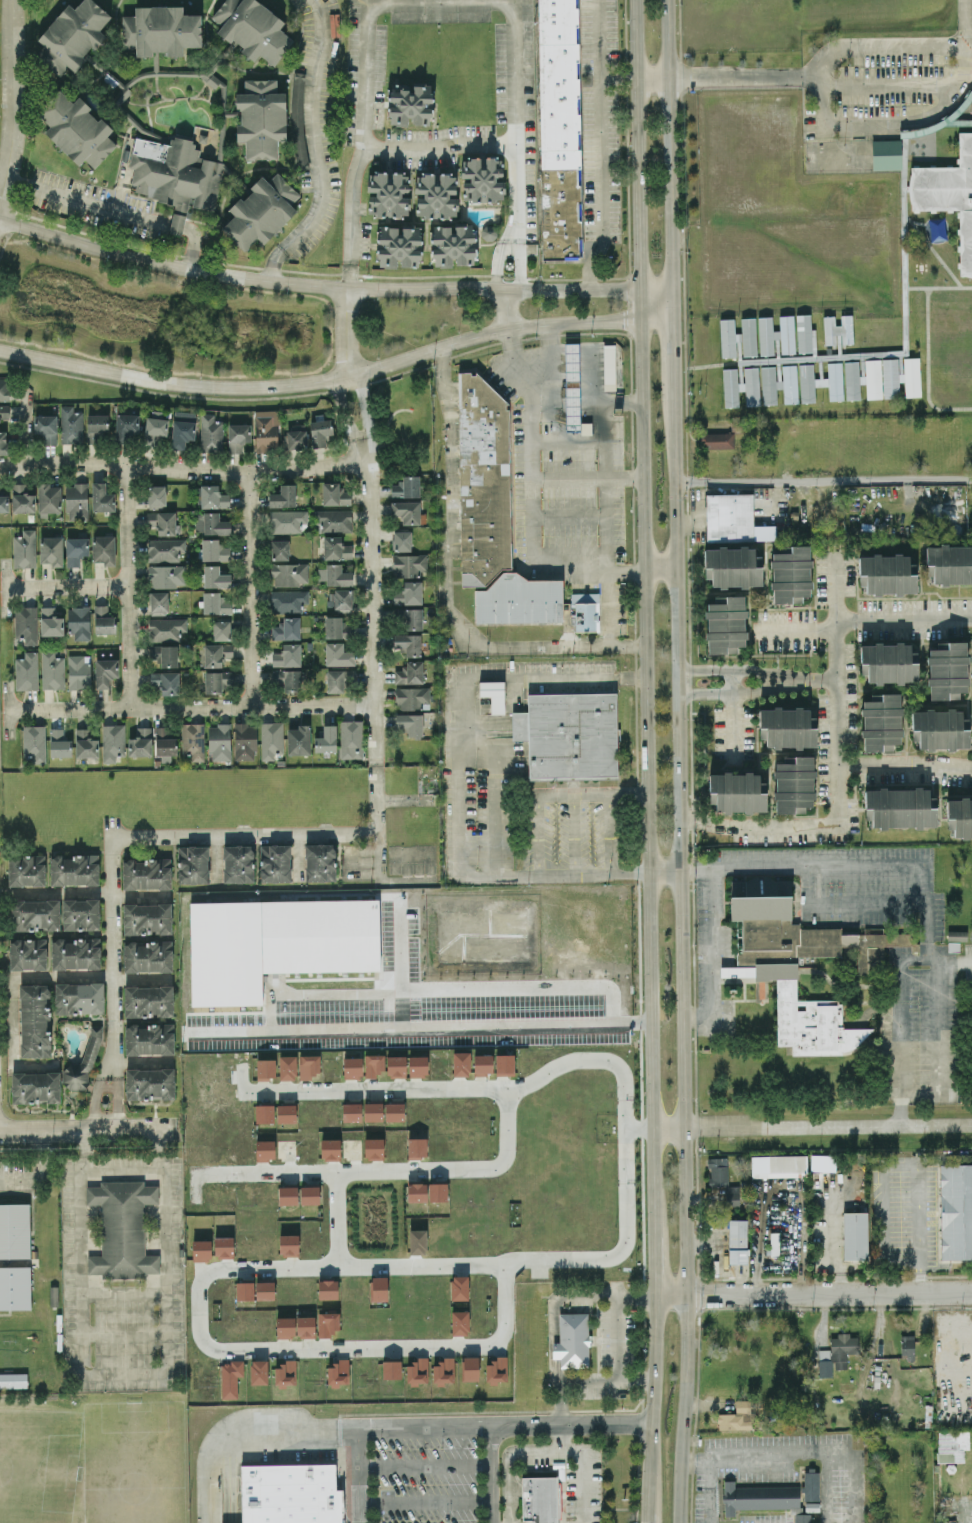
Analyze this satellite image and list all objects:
road: (966, 23)
building: (252, 28)
building: (160, 30)
building: (72, 36)
road: (825, 57)
road: (745, 77)
road: (653, 79)
road: (889, 87)
building: (410, 105)
road: (15, 108)
building: (261, 117)
road: (917, 121)
building: (76, 129)
building: (559, 129)
road: (446, 135)
road: (519, 141)
road: (371, 142)
road: (637, 143)
road: (600, 144)
road: (670, 149)
building: (886, 154)
building: (482, 179)
building: (388, 194)
building: (436, 194)
building: (948, 194)
building: (260, 211)
building: (489, 232)
building: (399, 245)
building: (452, 245)
road: (278, 255)
road: (316, 285)
road: (655, 294)
road: (640, 304)
road: (656, 310)
road: (507, 311)
road: (611, 320)
building: (838, 329)
road: (347, 332)
building: (804, 333)
building: (787, 334)
building: (766, 335)
building: (727, 336)
building: (748, 336)
road: (672, 349)
road: (511, 362)
road: (550, 363)
building: (609, 367)
road: (537, 370)
building: (912, 376)
building: (890, 377)
building: (873, 378)
building: (851, 380)
building: (835, 381)
building: (807, 382)
road: (292, 383)
building: (790, 383)
building: (751, 385)
building: (769, 385)
building: (573, 386)
building: (730, 387)
building: (4, 389)
road: (586, 402)
road: (352, 405)
building: (4, 409)
building: (70, 425)
building: (96, 425)
building: (125, 426)
building: (155, 426)
building: (45, 429)
road: (24, 430)
building: (265, 432)
building: (319, 432)
building: (181, 433)
building: (210, 433)
building: (238, 436)
building: (718, 440)
building: (3, 442)
road: (569, 443)
road: (182, 469)
road: (586, 476)
road: (824, 478)
road: (532, 479)
building: (406, 486)
building: (335, 493)
building: (156, 495)
building: (213, 496)
building: (283, 496)
building: (48, 497)
building: (102, 497)
building: (21, 499)
building: (76, 500)
building: (4, 503)
road: (450, 503)
building: (406, 511)
building: (493, 514)
road: (569, 515)
building: (333, 519)
building: (287, 520)
building: (162, 521)
building: (210, 523)
road: (607, 524)
building: (402, 540)
building: (24, 548)
building: (336, 548)
road: (570, 548)
building: (103, 549)
building: (165, 549)
building: (214, 549)
building: (279, 549)
building: (51, 550)
building: (75, 550)
building: (409, 564)
building: (949, 564)
road: (661, 571)
road: (589, 572)
building: (289, 574)
building: (887, 574)
building: (166, 575)
building: (334, 575)
building: (791, 575)
building: (215, 576)
road: (67, 586)
road: (5, 587)
road: (129, 587)
road: (249, 590)
building: (408, 592)
road: (371, 597)
building: (342, 598)
building: (287, 599)
building: (159, 602)
building: (215, 603)
building: (584, 611)
building: (412, 618)
road: (903, 619)
building: (103, 620)
building: (50, 621)
building: (78, 621)
building: (25, 624)
building: (725, 624)
building: (336, 627)
building: (166, 628)
building: (286, 628)
building: (220, 629)
road: (793, 630)
building: (408, 643)
road: (559, 646)
building: (216, 653)
building: (165, 654)
building: (338, 654)
building: (287, 655)
building: (888, 663)
building: (52, 670)
building: (947, 670)
building: (26, 671)
building: (78, 671)
building: (105, 671)
road: (739, 671)
building: (409, 672)
road: (551, 677)
building: (286, 678)
building: (217, 680)
building: (336, 680)
road: (822, 681)
building: (165, 682)
road: (803, 682)
road: (740, 693)
building: (493, 694)
building: (411, 697)
road: (190, 707)
road: (7, 710)
road: (734, 718)
building: (409, 722)
road: (482, 722)
building: (881, 722)
building: (787, 727)
building: (940, 729)
building: (568, 734)
building: (326, 738)
building: (271, 739)
building: (298, 739)
building: (351, 739)
building: (192, 740)
building: (112, 741)
building: (164, 741)
building: (219, 741)
building: (245, 741)
building: (33, 742)
building: (140, 742)
building: (59, 743)
building: (85, 743)
road: (482, 748)
road: (836, 755)
road: (904, 764)
road: (458, 775)
road: (646, 777)
building: (794, 785)
building: (737, 792)
road: (592, 794)
road: (405, 802)
building: (900, 807)
road: (493, 810)
building: (959, 817)
road: (691, 818)
road: (609, 832)
road: (572, 833)
road: (279, 834)
road: (537, 834)
road: (297, 856)
road: (216, 858)
building: (274, 862)
building: (320, 862)
building: (238, 863)
building: (192, 864)
road: (848, 865)
building: (26, 869)
building: (74, 869)
road: (553, 871)
road: (664, 871)
building: (146, 873)
road: (385, 877)
road: (62, 894)
road: (139, 899)
road: (848, 907)
building: (35, 914)
building: (81, 914)
building: (147, 918)
building: (957, 935)
building: (275, 943)
building: (75, 952)
building: (28, 953)
road: (111, 953)
building: (147, 955)
road: (711, 956)
road: (682, 960)
building: (795, 960)
road: (396, 961)
road: (935, 963)
road: (91, 980)
road: (317, 994)
building: (78, 997)
building: (148, 1001)
road: (698, 1017)
building: (34, 1020)
road: (420, 1025)
building: (149, 1039)
road: (900, 1042)
road: (12, 1047)
road: (938, 1050)
road: (141, 1062)
building: (461, 1063)
building: (504, 1063)
building: (373, 1064)
building: (482, 1064)
building: (308, 1065)
building: (418, 1065)
building: (396, 1066)
building: (287, 1067)
building: (352, 1067)
building: (265, 1068)
building: (149, 1084)
building: (35, 1087)
road: (95, 1096)
road: (115, 1099)
building: (372, 1110)
building: (351, 1111)
building: (394, 1111)
building: (264, 1112)
building: (286, 1113)
road: (812, 1127)
road: (90, 1129)
road: (640, 1129)
building: (416, 1147)
building: (373, 1148)
building: (264, 1149)
building: (330, 1149)
road: (895, 1161)
building: (779, 1165)
road: (387, 1171)
building: (718, 1171)
road: (40, 1172)
building: (416, 1191)
building: (437, 1191)
building: (309, 1194)
building: (287, 1195)
building: (732, 1195)
building: (955, 1210)
road: (628, 1218)
road: (337, 1219)
building: (122, 1228)
building: (13, 1229)
building: (855, 1235)
building: (737, 1240)
building: (417, 1241)
building: (288, 1244)
building: (223, 1246)
building: (201, 1249)
road: (656, 1264)
building: (14, 1287)
building: (458, 1287)
building: (378, 1288)
building: (264, 1289)
building: (327, 1289)
building: (244, 1290)
road: (814, 1292)
building: (54, 1295)
building: (460, 1322)
building: (327, 1323)
building: (305, 1326)
building: (285, 1327)
road: (553, 1337)
road: (617, 1338)
building: (572, 1340)
building: (907, 1346)
road: (398, 1347)
building: (837, 1353)
building: (470, 1368)
building: (391, 1369)
building: (497, 1370)
building: (259, 1371)
building: (417, 1371)
building: (444, 1371)
road: (125, 1372)
building: (286, 1373)
building: (338, 1373)
building: (230, 1378)
building: (13, 1380)
road: (652, 1395)
road: (560, 1403)
building: (737, 1416)
road: (390, 1428)
road: (560, 1437)
building: (952, 1445)
road: (802, 1450)
road: (543, 1451)
park: (134, 1461)
park: (38, 1466)
road: (425, 1466)
road: (492, 1474)
road: (230, 1476)
road: (358, 1476)
road: (828, 1486)
road: (581, 1487)
road: (509, 1489)
road: (712, 1490)
building: (290, 1493)
building: (759, 1497)
building: (540, 1499)
road: (425, 1501)
road: (648, 1510)
building: (802, 1518)

